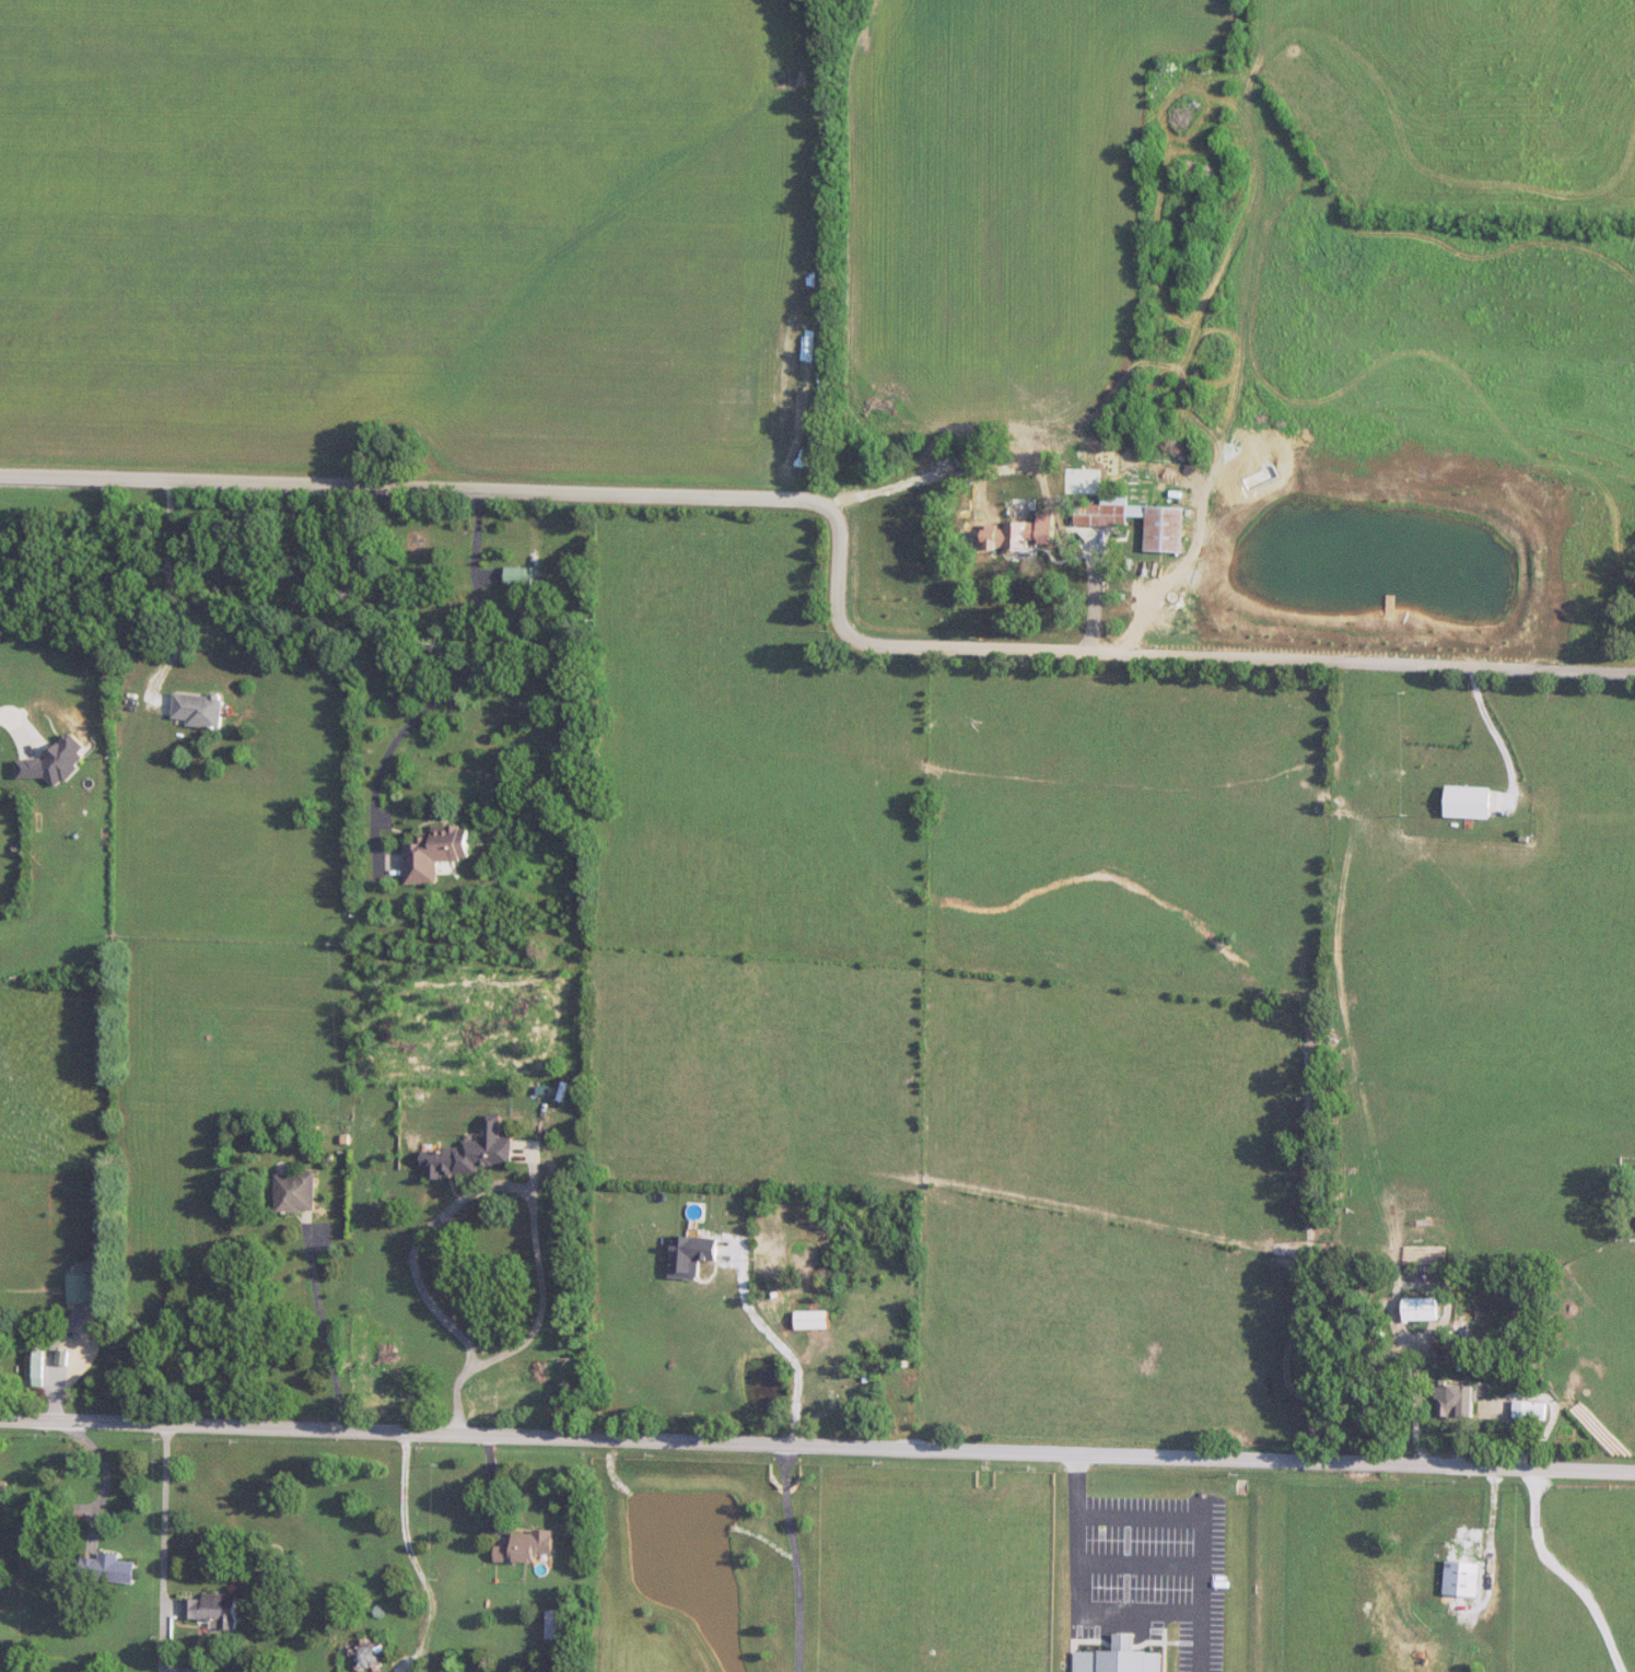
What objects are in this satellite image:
building: (1100, 521)
building: (1014, 537)
road: (842, 547)
building: (523, 576)
road: (171, 595)
road: (1093, 597)
road: (459, 679)
building: (198, 710)
road: (7, 716)
road: (1492, 733)
building: (434, 853)
building: (470, 1154)
building: (296, 1193)
road: (529, 1194)
building: (1634, 1203)
building: (80, 1289)
building: (1420, 1310)
building: (810, 1320)
road: (323, 1329)
road: (50, 1360)
building: (35, 1369)
building: (901, 1393)
building: (1455, 1401)
building: (1528, 1411)
road: (817, 1448)
road: (106, 1475)
building: (3, 1498)
road: (166, 1548)
building: (527, 1548)
road: (416, 1554)
road: (793, 1558)
building: (115, 1569)
road: (1569, 1570)
building: (1461, 1579)
building: (214, 1610)
road: (1171, 1613)
building: (557, 1625)
building: (369, 1657)
building: (191, 1670)

